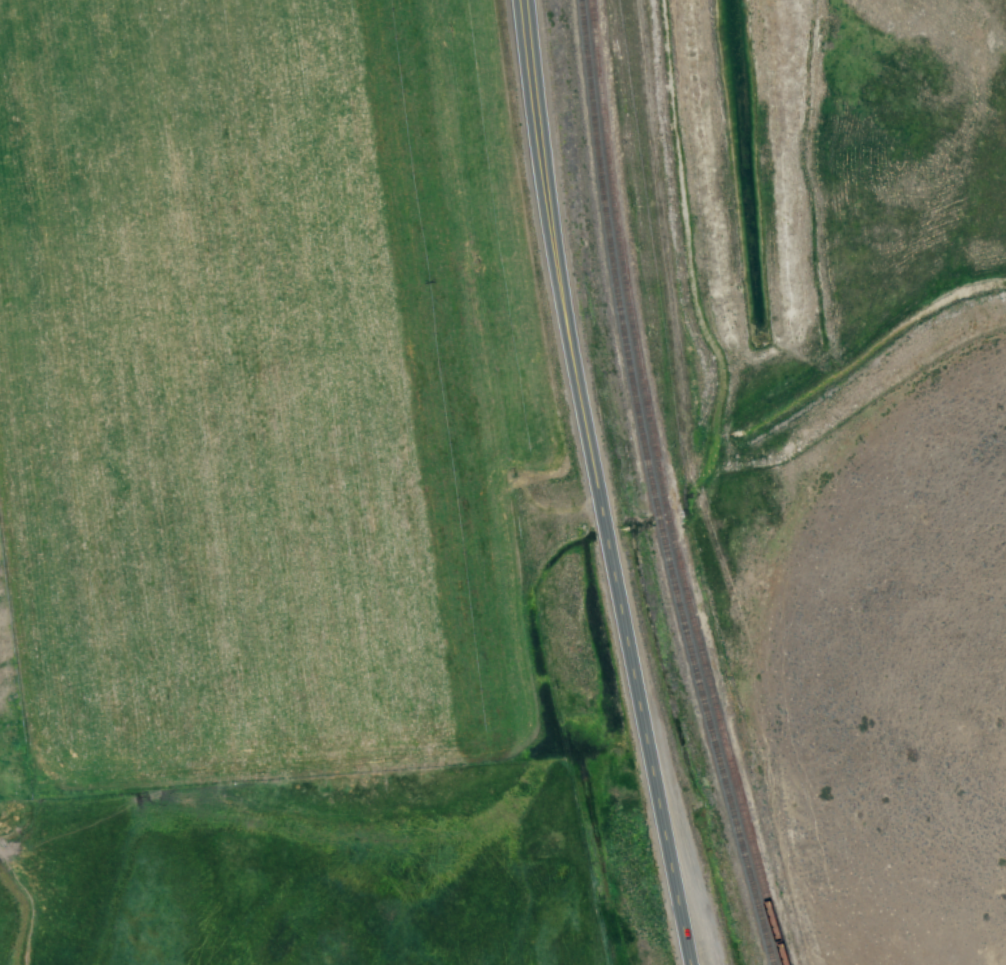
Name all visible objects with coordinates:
wastewater plant: (733, 157)
railway: (621, 255)
railway: (610, 257)
road: (591, 484)
railway: (668, 515)
railway: (657, 518)
railway: (728, 743)
railway: (713, 745)

